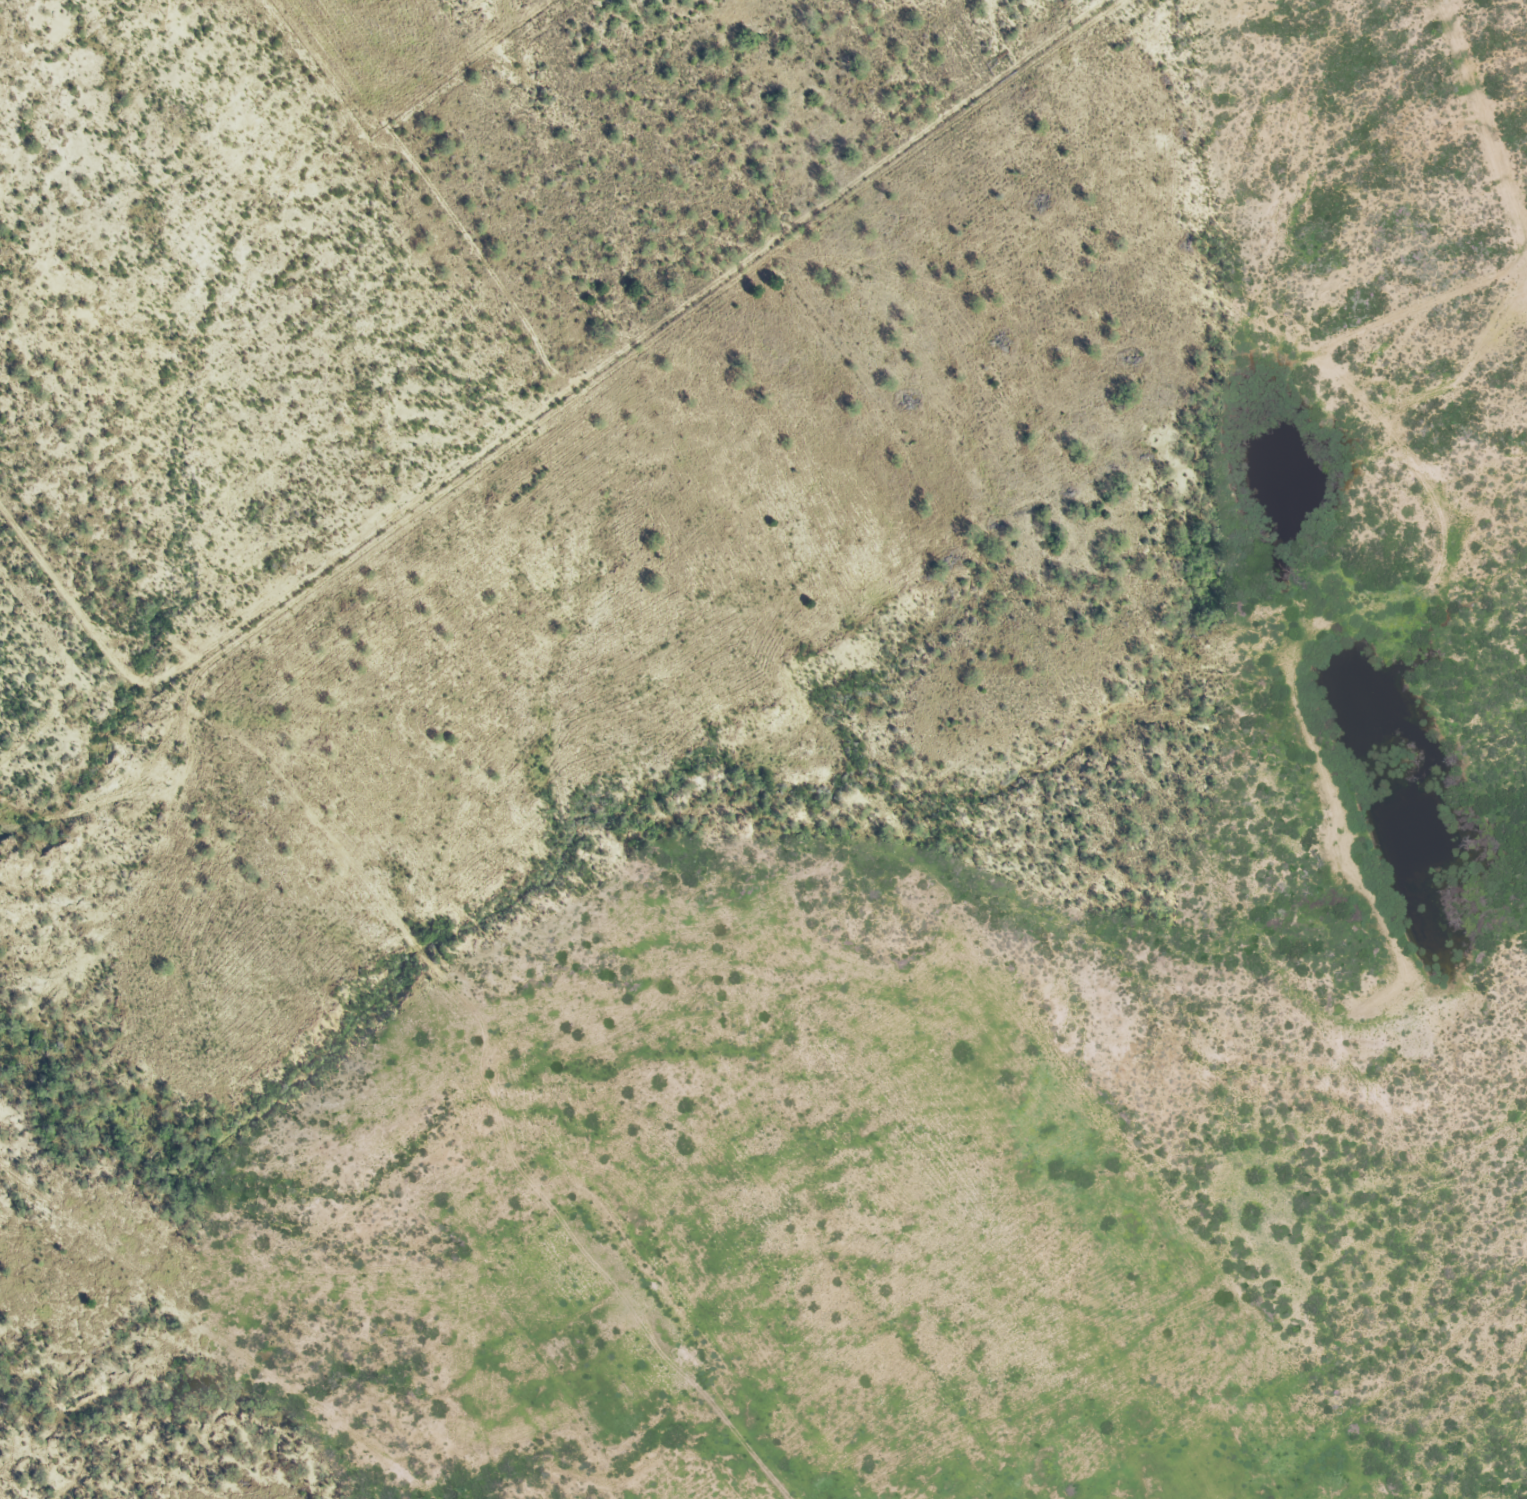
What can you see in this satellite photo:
road: (1441, 530)
road: (1480, 1405)

